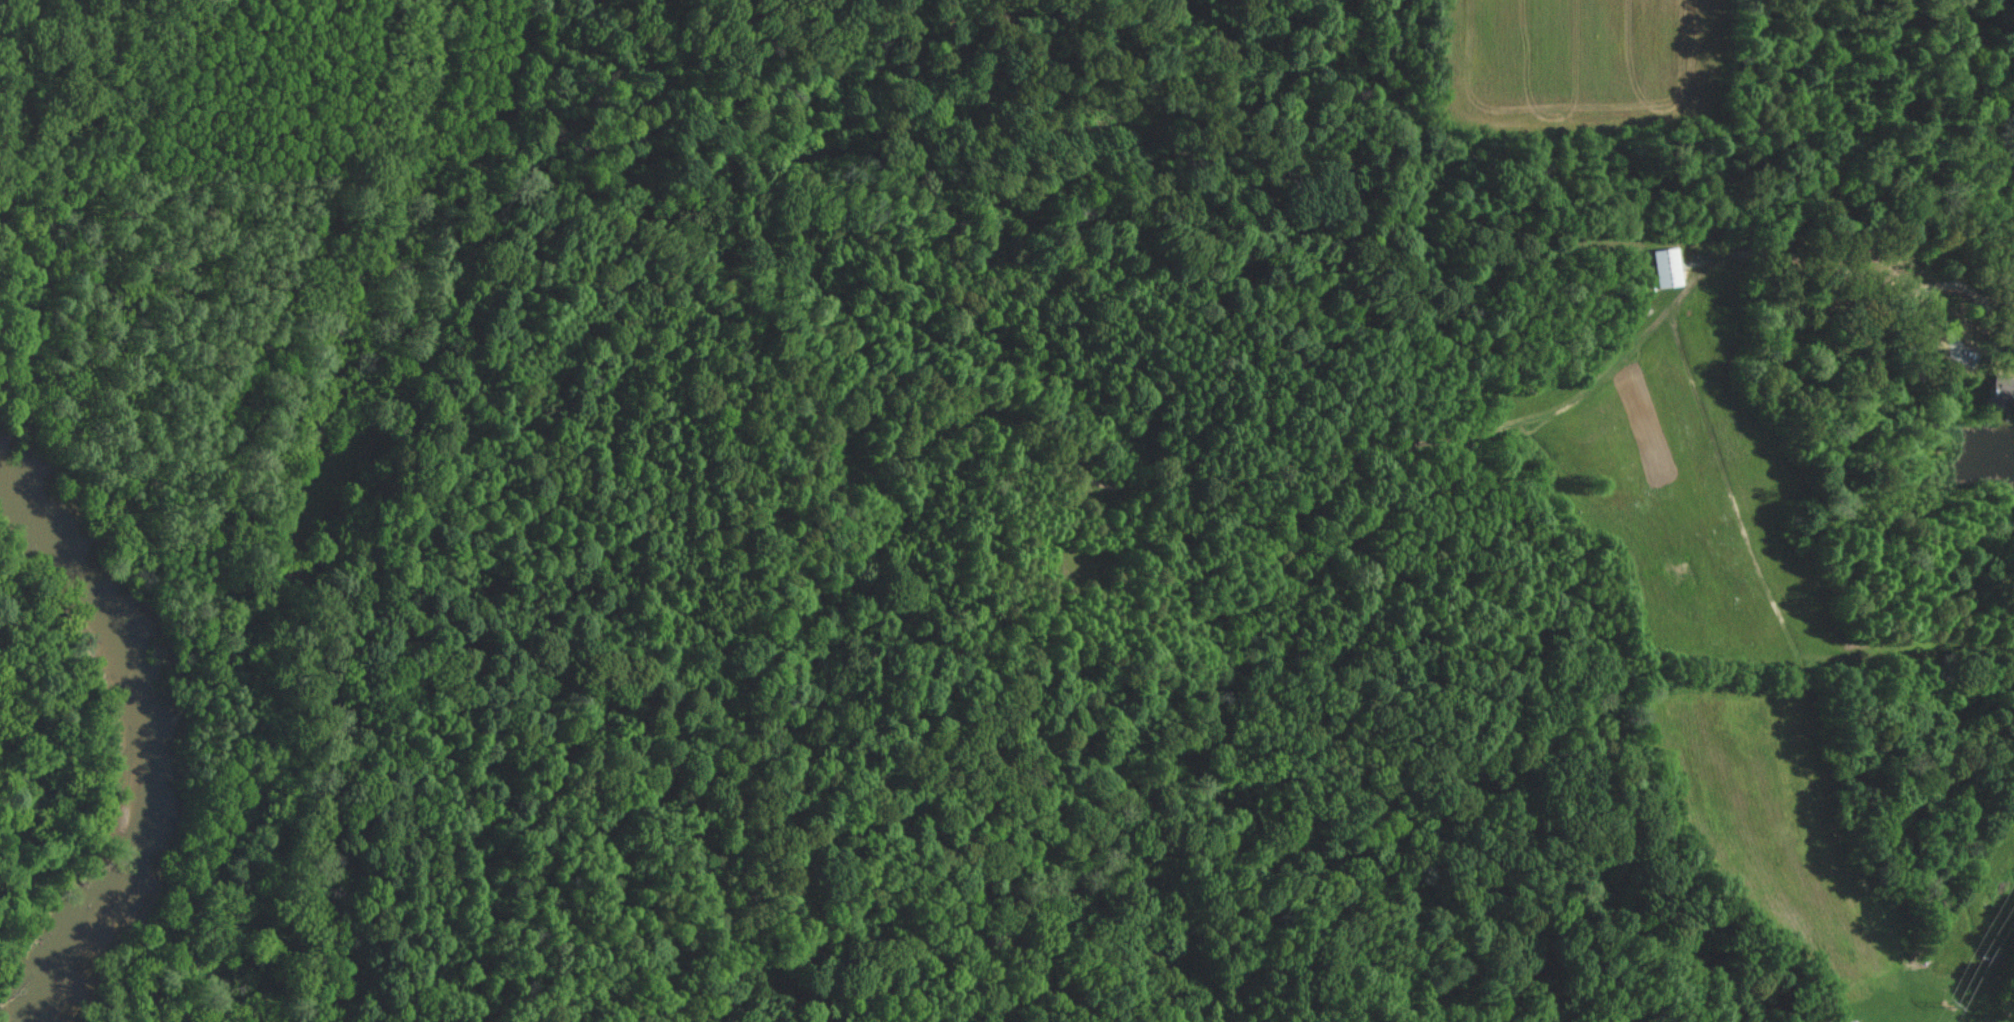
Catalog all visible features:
building: (1666, 267)
road: (1622, 291)
building: (2000, 383)
river: (149, 743)
power tower: (1952, 1003)

